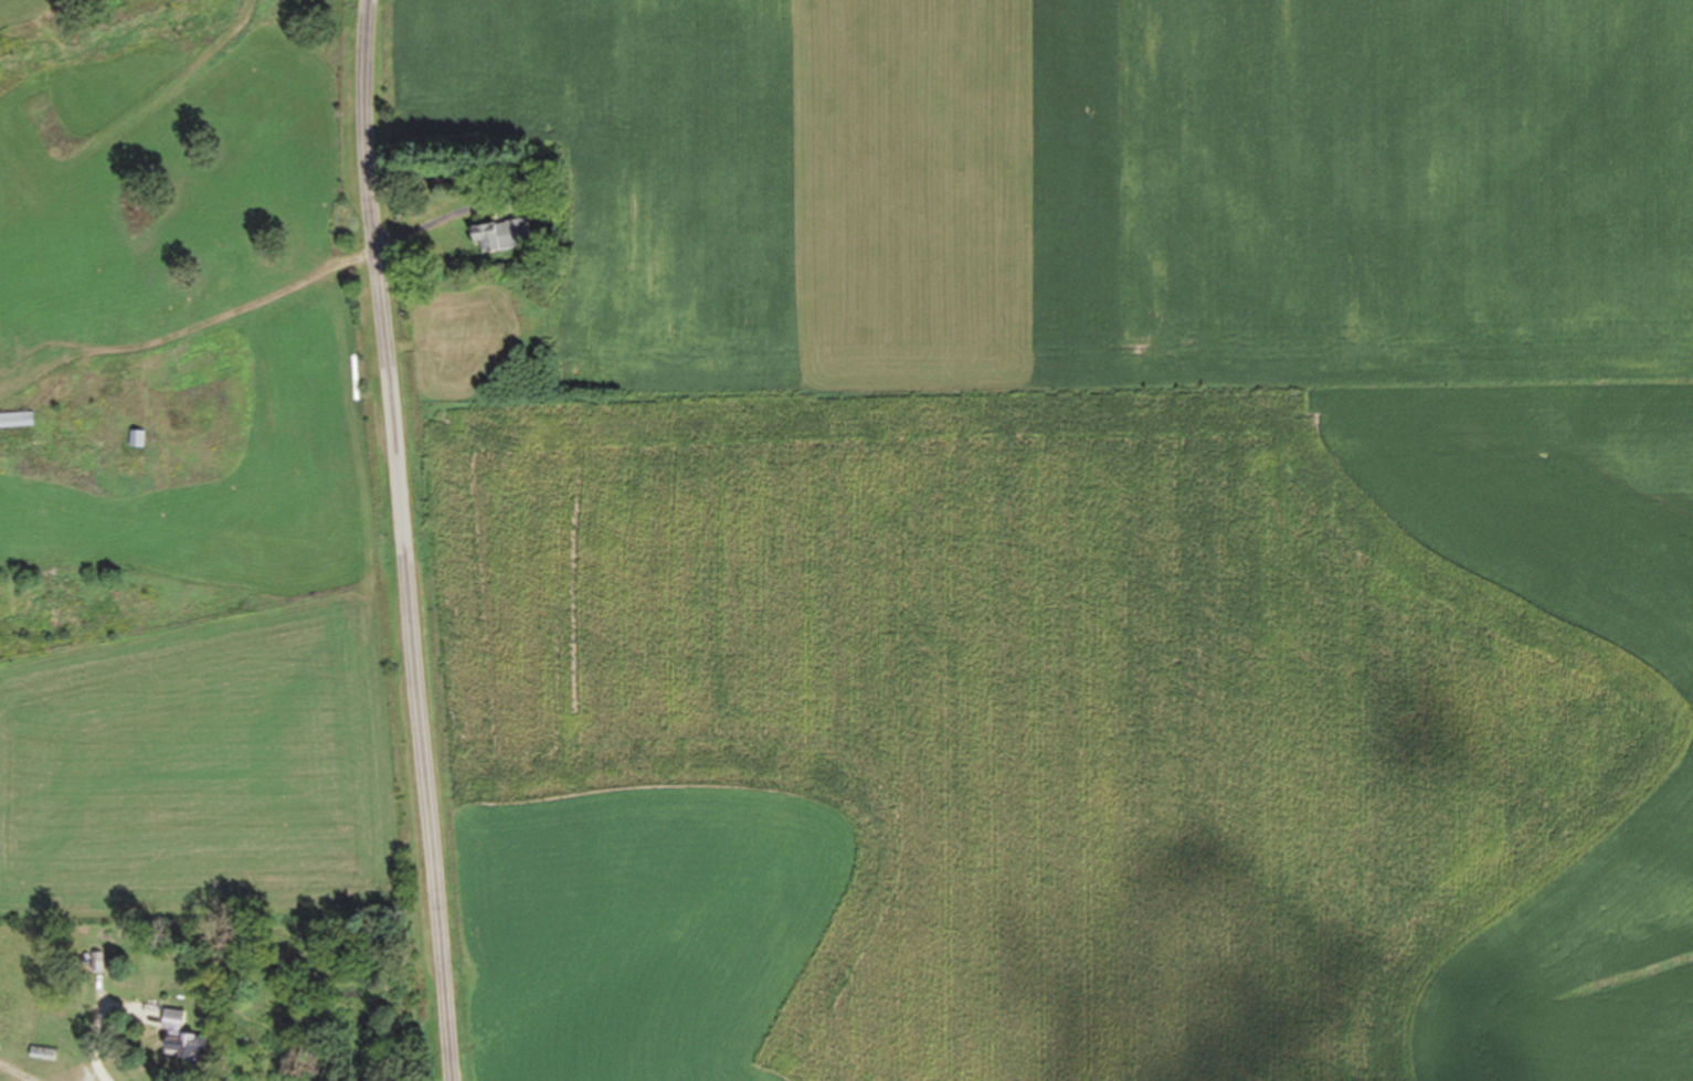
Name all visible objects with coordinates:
building: (502, 235)
building: (15, 421)
building: (135, 439)
road: (395, 540)
building: (180, 1039)

